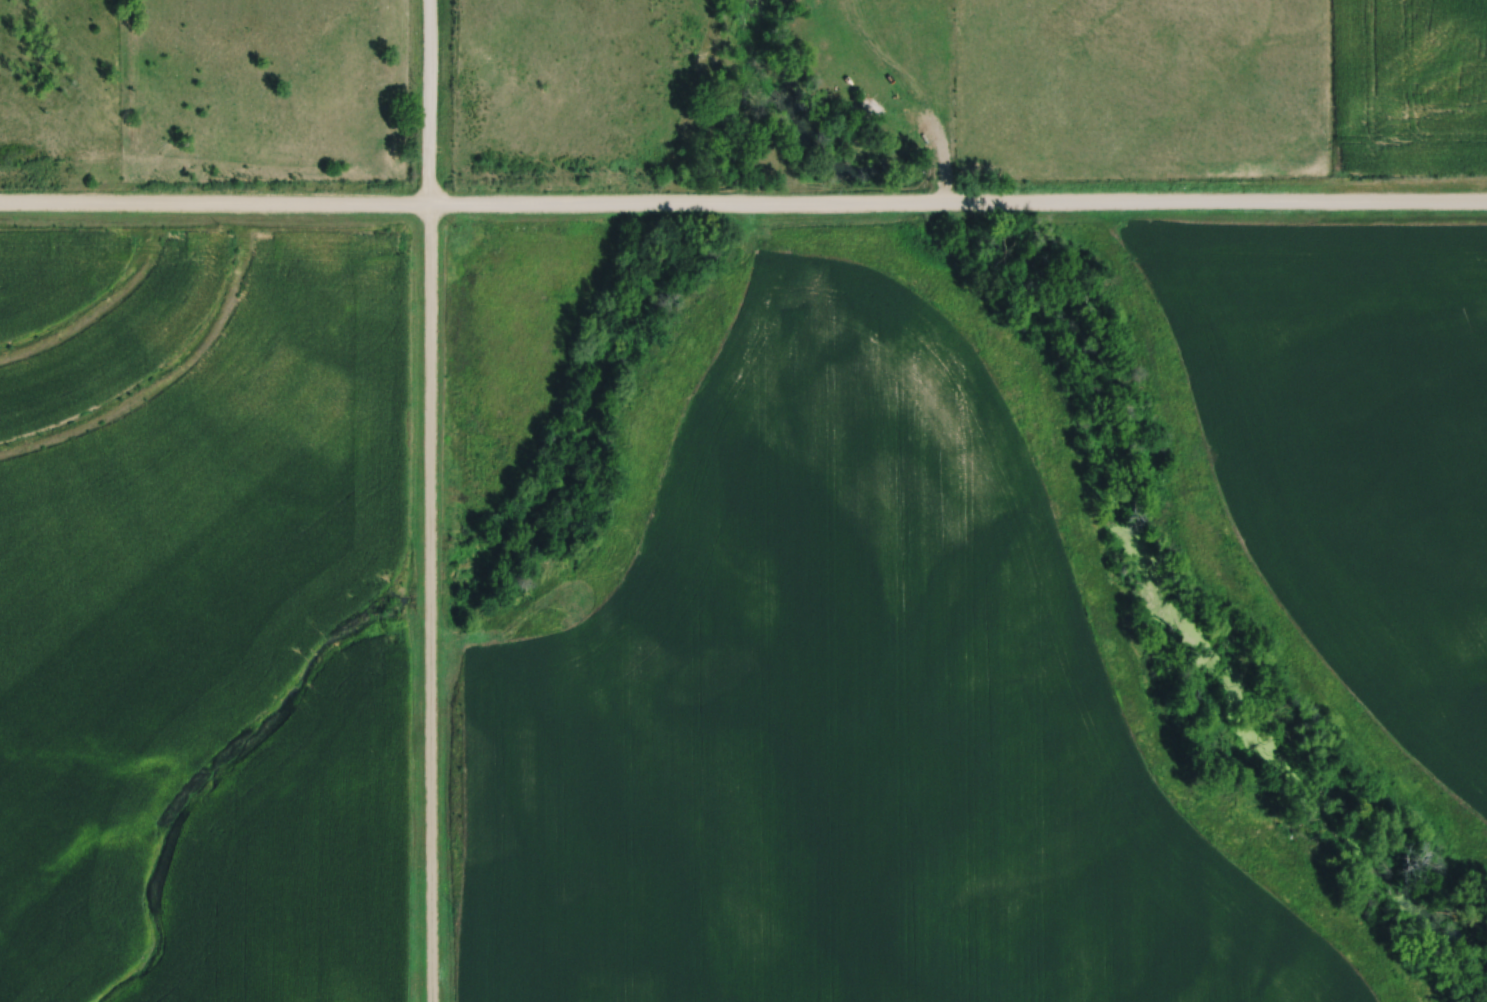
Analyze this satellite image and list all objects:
road: (743, 207)
road: (427, 500)

